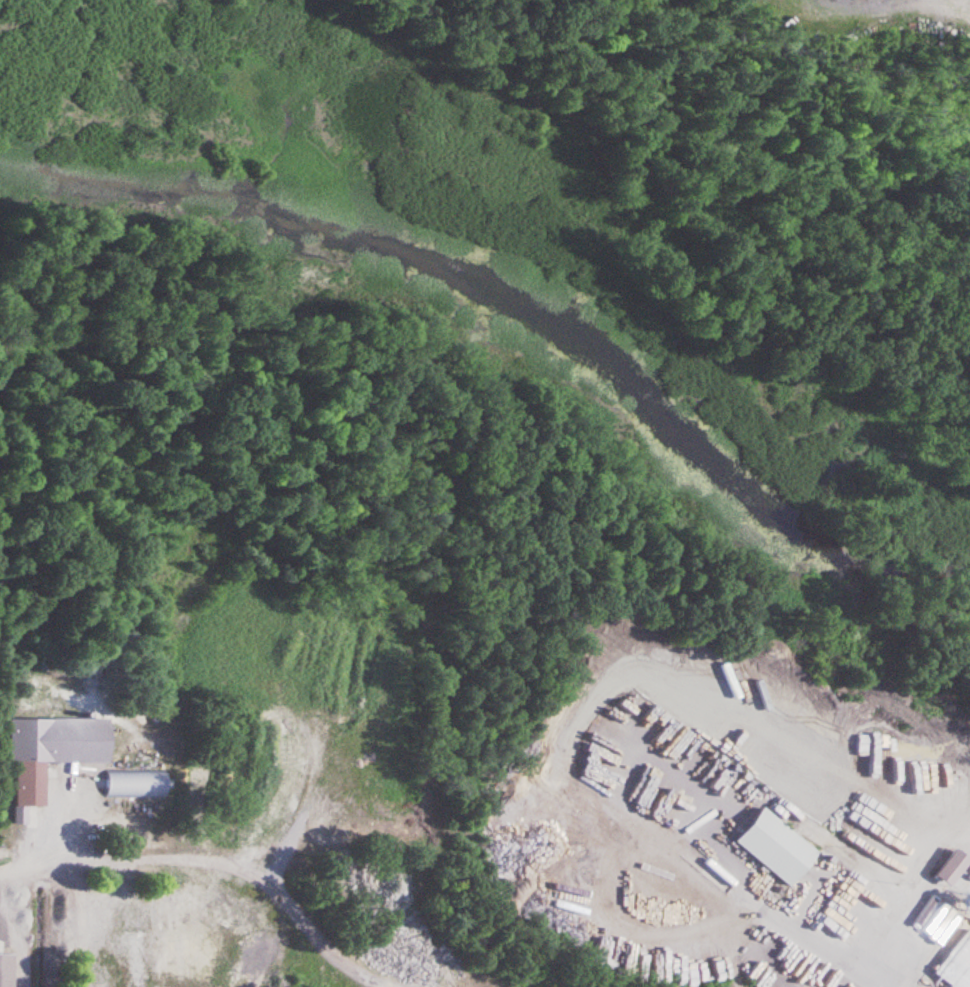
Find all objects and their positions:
building: (51, 755)
building: (917, 770)
road: (256, 873)
road: (24, 877)
building: (957, 964)
building: (7, 970)

